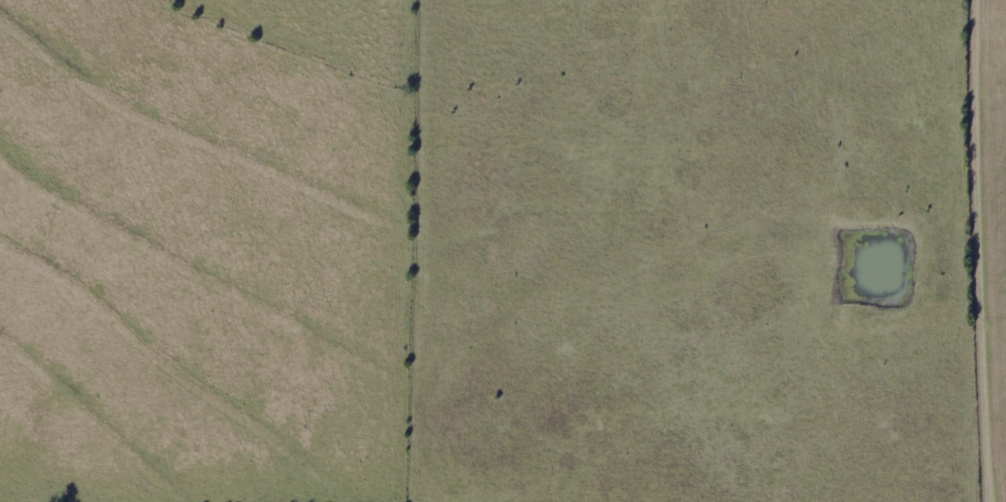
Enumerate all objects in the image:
road: (991, 251)

